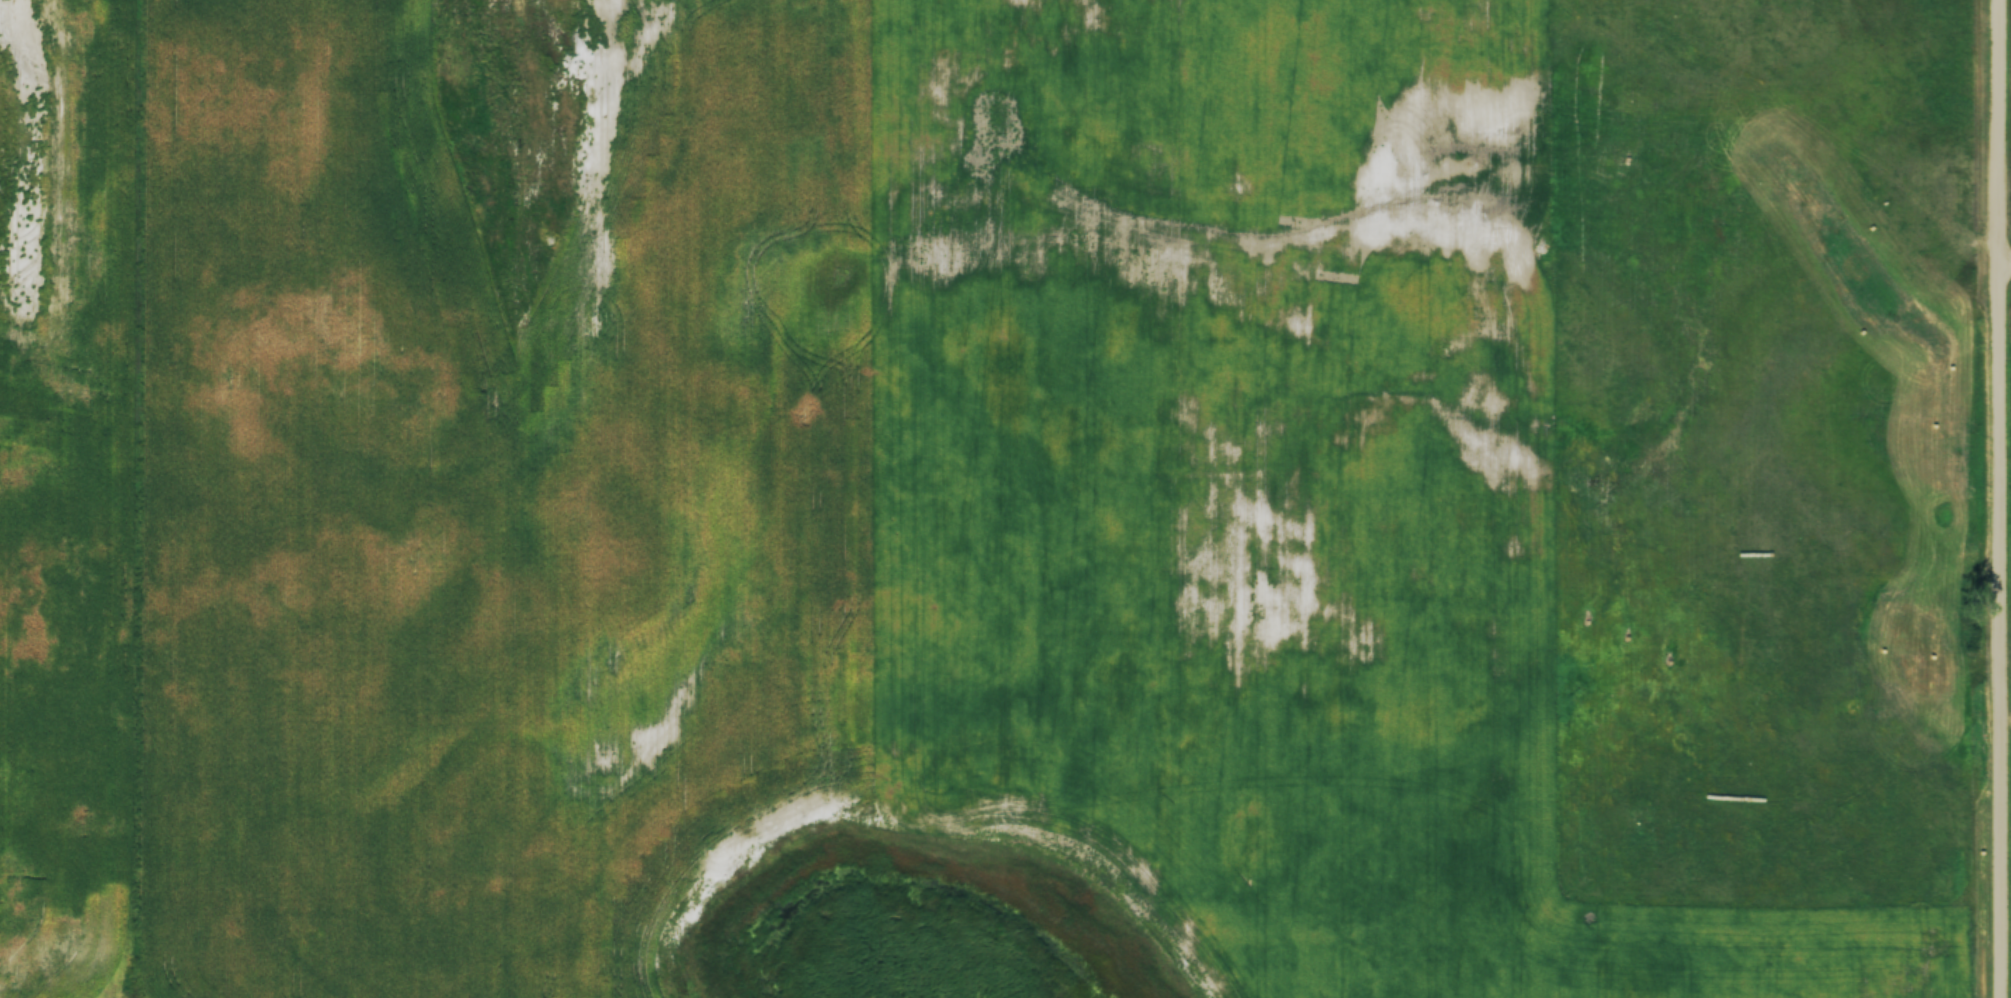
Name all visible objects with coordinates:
road: (2006, 262)
road: (2001, 499)

